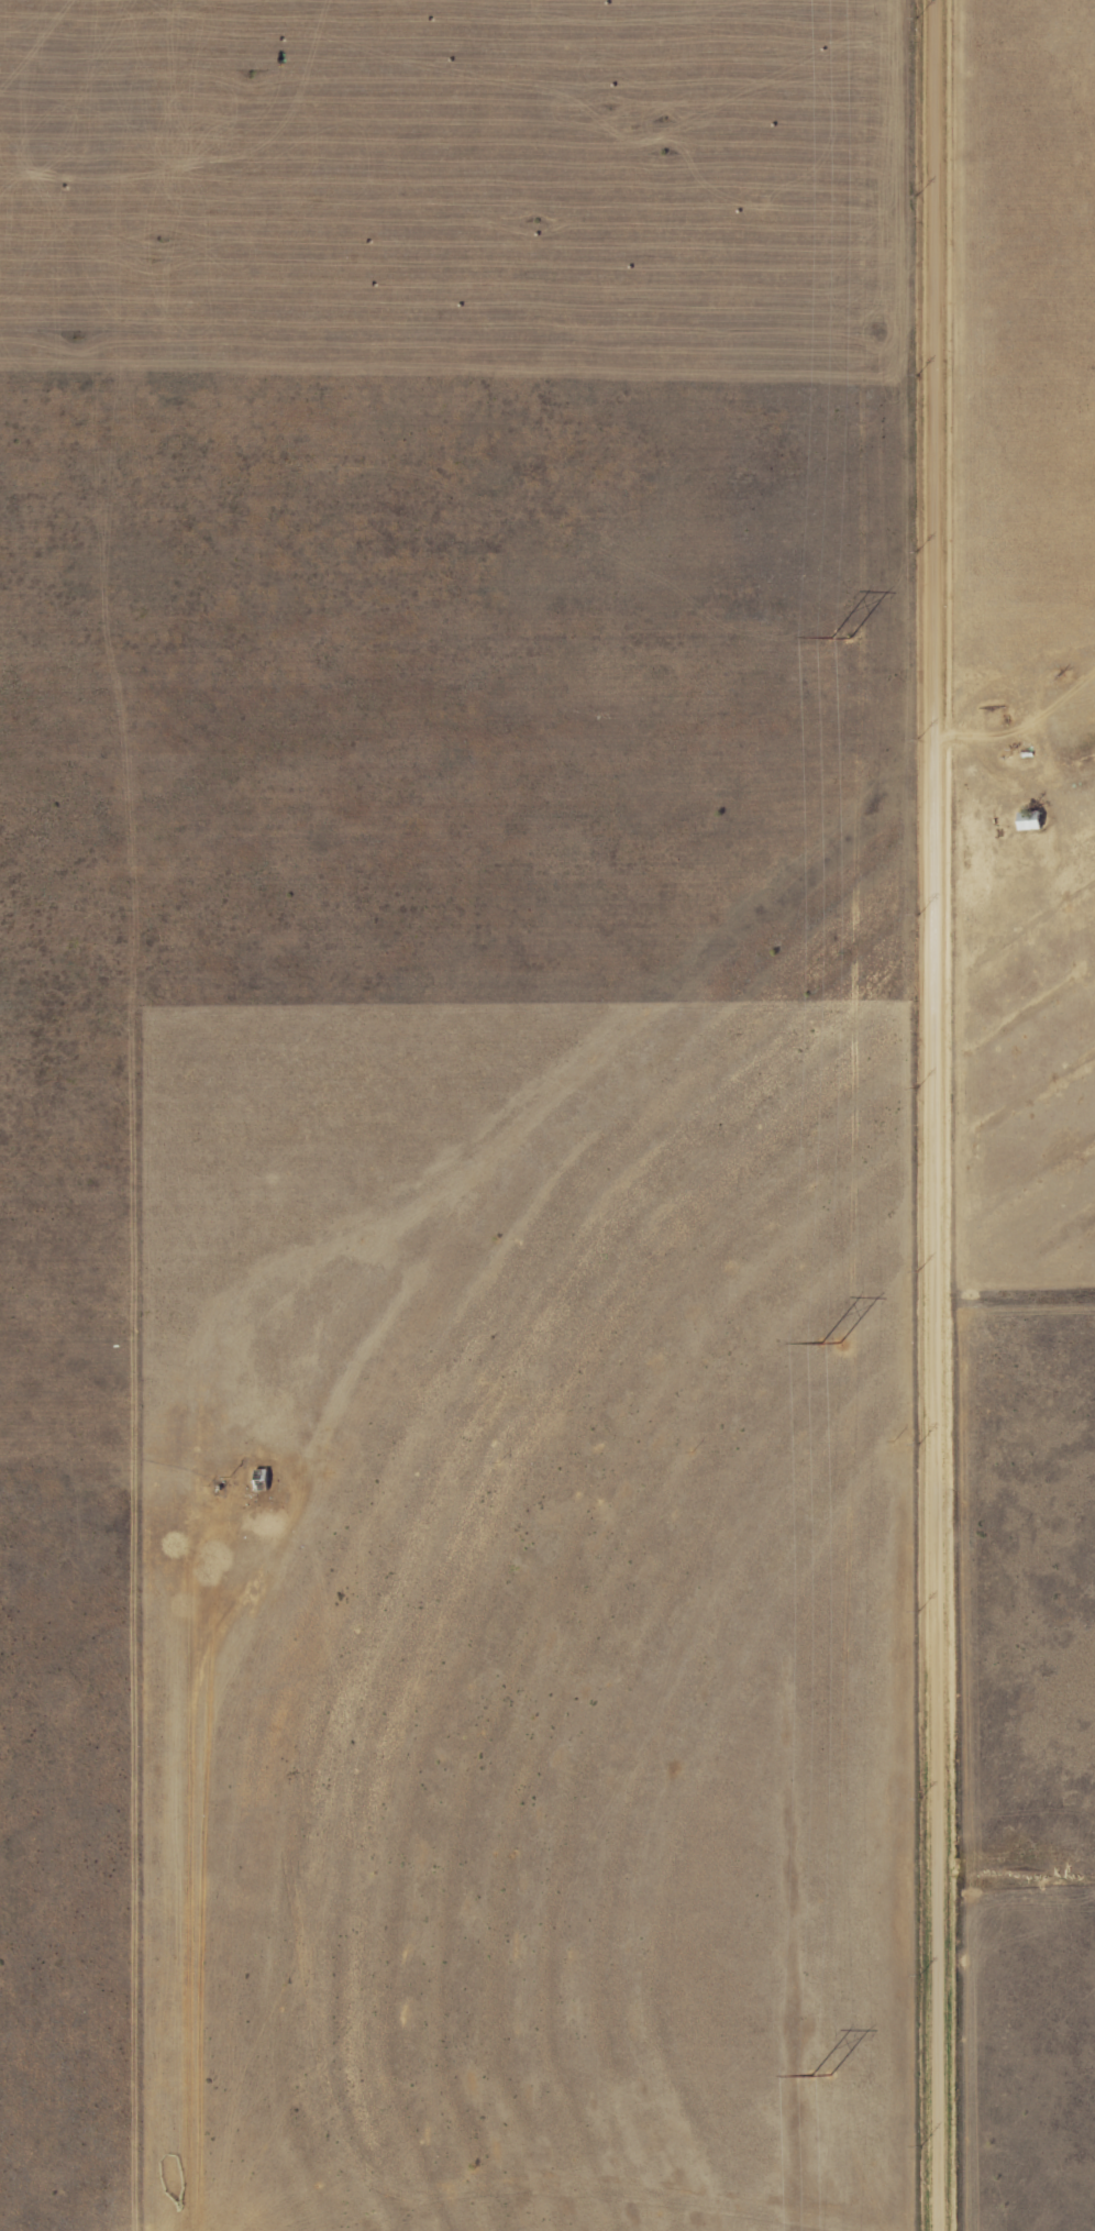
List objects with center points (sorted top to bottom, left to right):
power tower: (845, 638)
road: (930, 1115)
power tower: (833, 1347)
power tower: (825, 2076)

